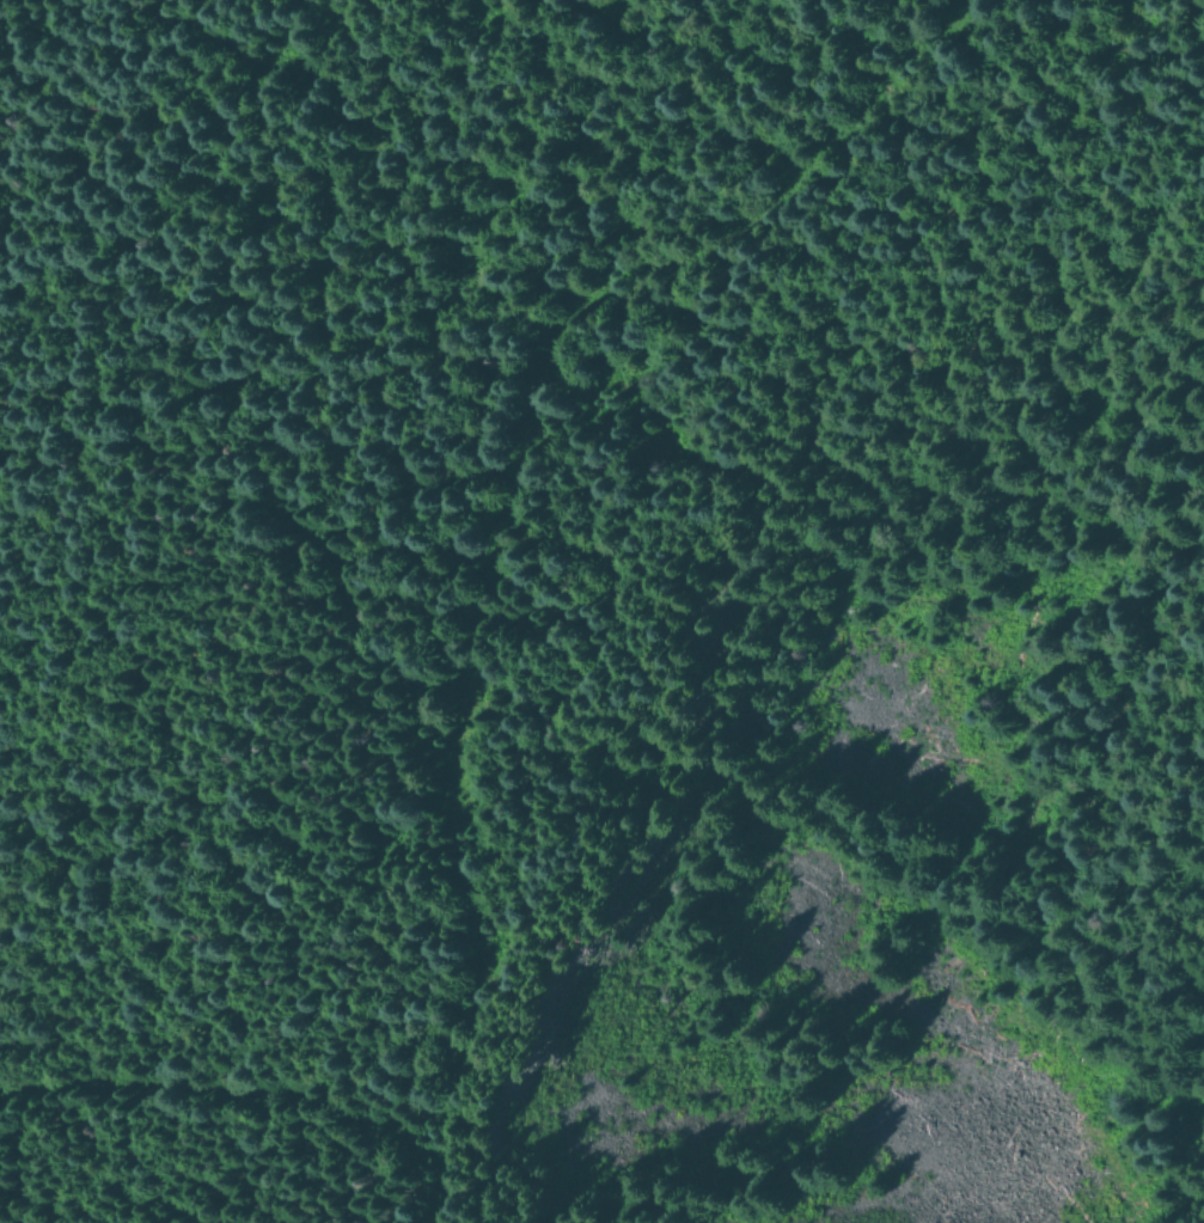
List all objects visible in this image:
road: (493, 510)

